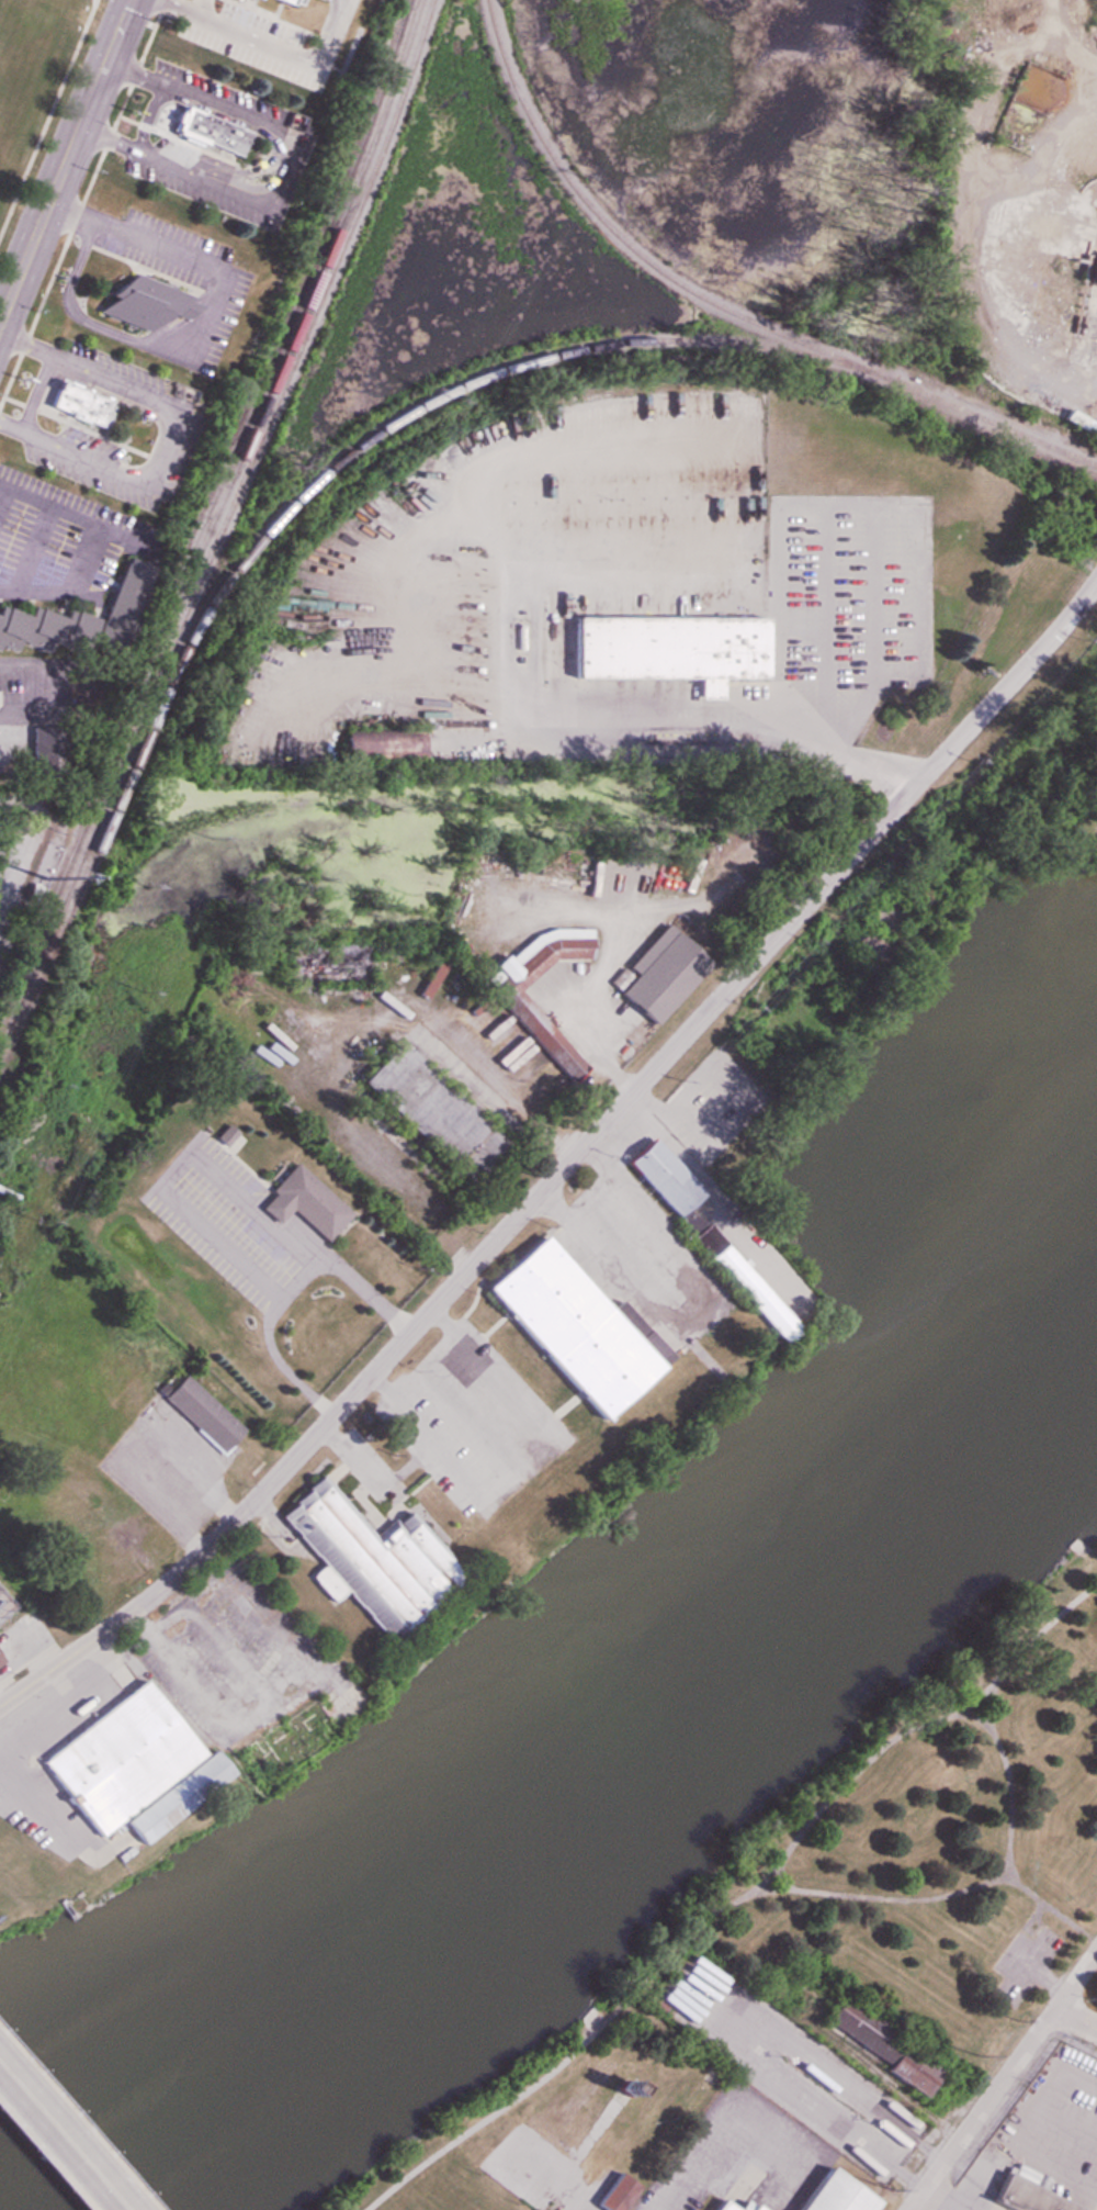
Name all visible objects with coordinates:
building: (295, 1)
park: (31, 75)
building: (212, 128)
road: (65, 162)
building: (1002, 269)
building: (147, 302)
railway: (725, 308)
railway: (296, 322)
building: (78, 400)
building: (1079, 425)
railway: (353, 449)
railway: (220, 484)
road: (798, 503)
railway: (224, 526)
road: (82, 534)
road: (16, 539)
building: (77, 618)
building: (667, 648)
building: (381, 744)
building: (38, 752)
road: (3, 801)
building: (689, 874)
building: (597, 879)
building: (297, 964)
building: (655, 974)
railway: (39, 977)
building: (535, 1027)
road: (587, 1040)
building: (427, 1110)
building: (220, 1137)
road: (566, 1164)
building: (658, 1175)
building: (302, 1202)
building: (572, 1326)
building: (201, 1413)
road: (129, 1432)
road: (514, 1466)
building: (363, 1558)
road: (973, 1718)
building: (283, 1745)
building: (126, 1766)
river: (578, 1766)
road: (33, 1830)
road: (781, 1877)
road: (964, 1888)
road: (736, 1897)
road: (1049, 1905)
road: (1033, 1917)
park: (816, 1927)
parking lot: (1022, 1962)
road: (1028, 1963)
road: (1045, 1981)
road: (712, 2011)
road: (1077, 2016)
building: (880, 2043)
parking lot: (784, 2062)
road: (874, 2069)
road: (1005, 2079)
building: (620, 2088)
road: (1047, 2113)
road: (60, 2140)
road: (583, 2140)
road: (711, 2142)
road: (1000, 2150)
parking lot: (738, 2156)
parking lot: (531, 2168)
road: (547, 2181)
road: (976, 2185)
building: (613, 2194)
building: (833, 2194)
building: (1020, 2197)
road: (946, 2200)
building: (746, 2206)
building: (720, 2207)

